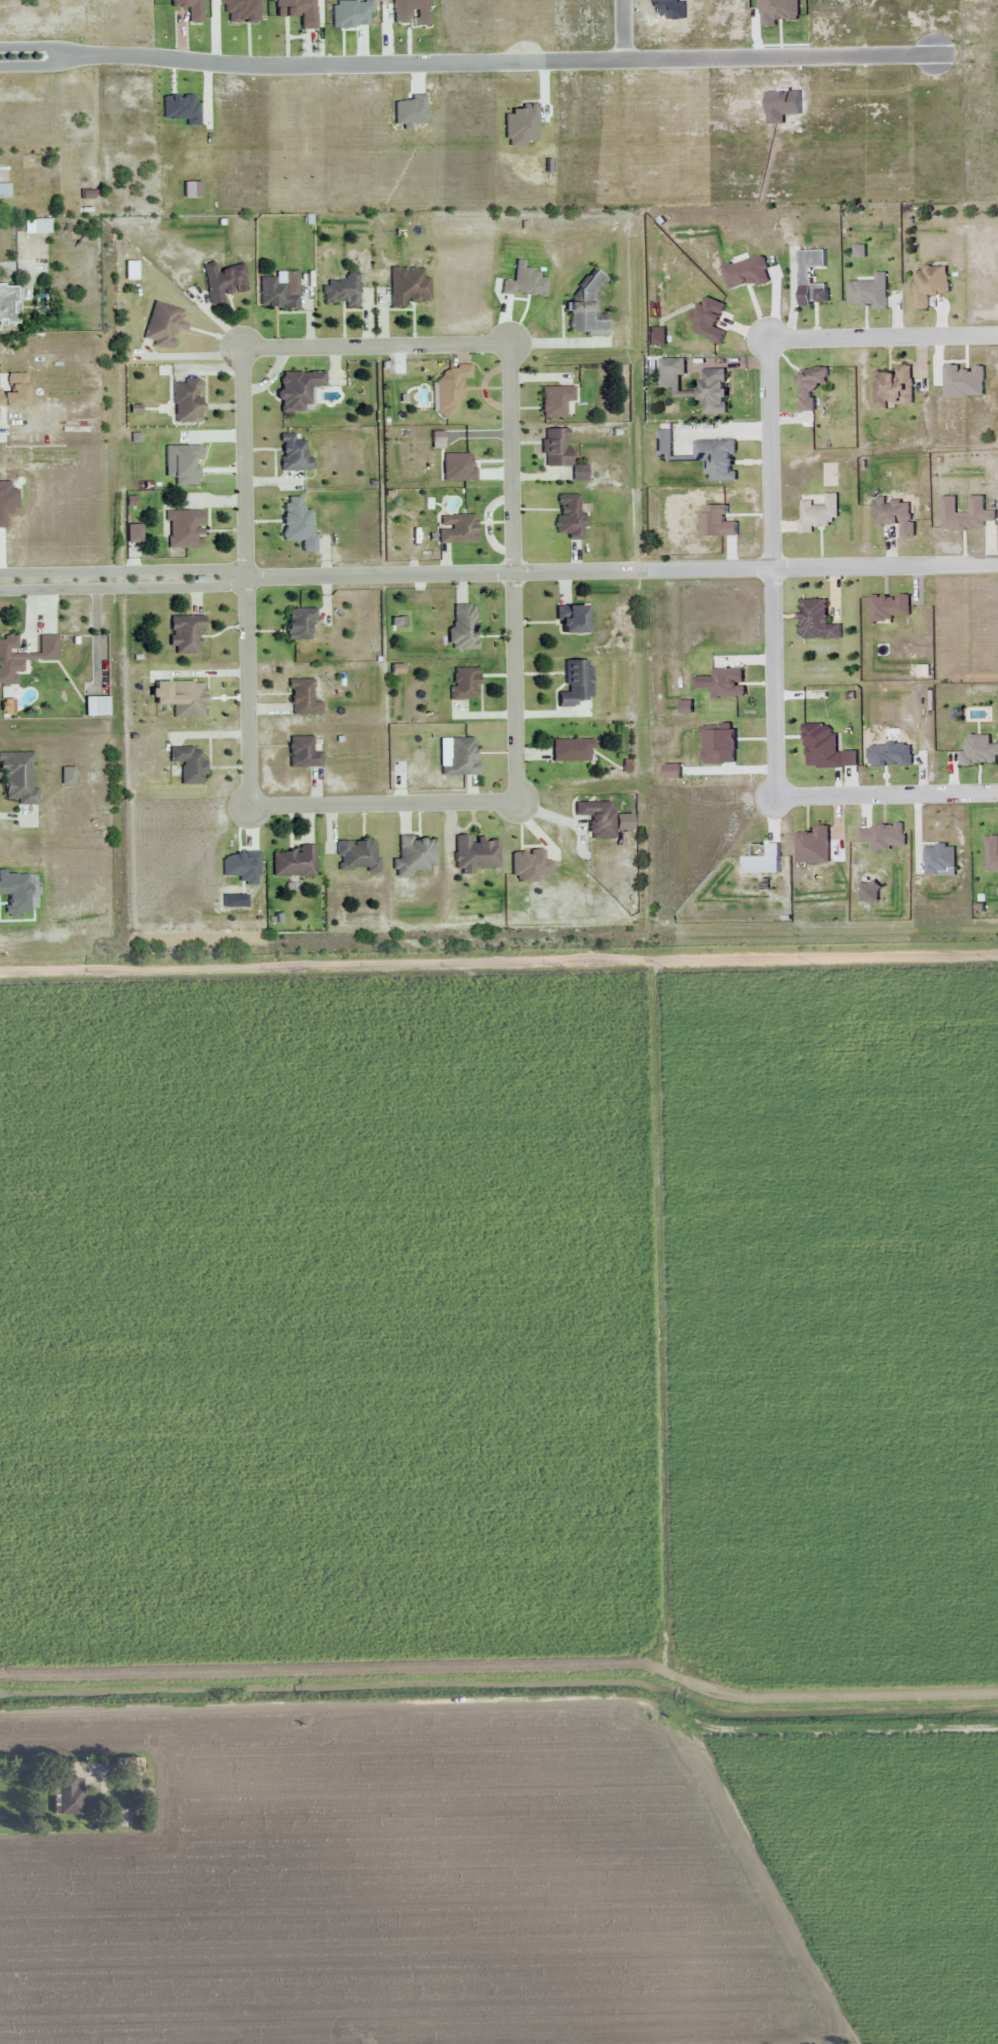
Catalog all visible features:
road: (467, 58)
building: (4, 191)
building: (804, 276)
building: (223, 281)
building: (407, 286)
building: (278, 291)
building: (342, 291)
building: (8, 303)
building: (161, 324)
building: (809, 386)
building: (297, 390)
building: (450, 390)
building: (711, 391)
building: (184, 400)
building: (555, 400)
building: (555, 447)
building: (293, 453)
building: (817, 515)
building: (568, 516)
building: (182, 529)
building: (455, 529)
road: (770, 561)
road: (484, 569)
building: (569, 619)
building: (816, 622)
building: (298, 624)
building: (463, 628)
building: (184, 634)
building: (22, 657)
building: (463, 683)
building: (575, 684)
building: (302, 698)
building: (187, 700)
building: (571, 750)
building: (302, 753)
building: (188, 764)
building: (16, 778)
road: (516, 798)
building: (597, 819)
building: (475, 853)
building: (415, 855)
building: (356, 856)
building: (294, 863)
road: (499, 967)
building: (128, 1767)
building: (68, 1796)

